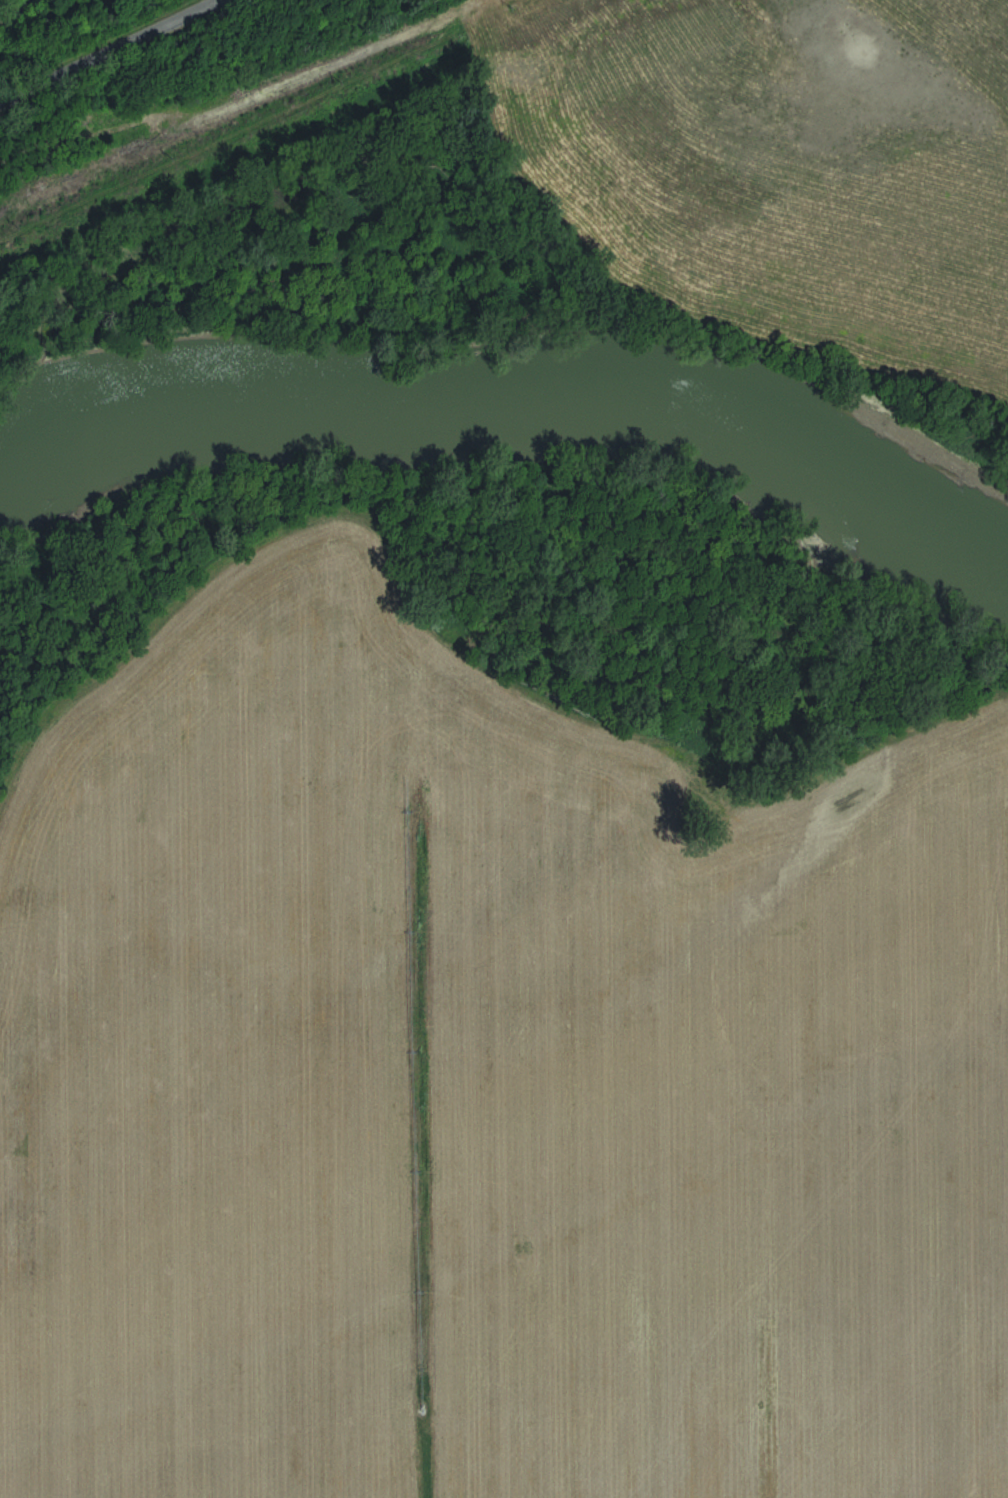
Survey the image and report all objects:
road: (117, 49)
crop: (792, 152)
river: (508, 395)
crop: (491, 1079)

